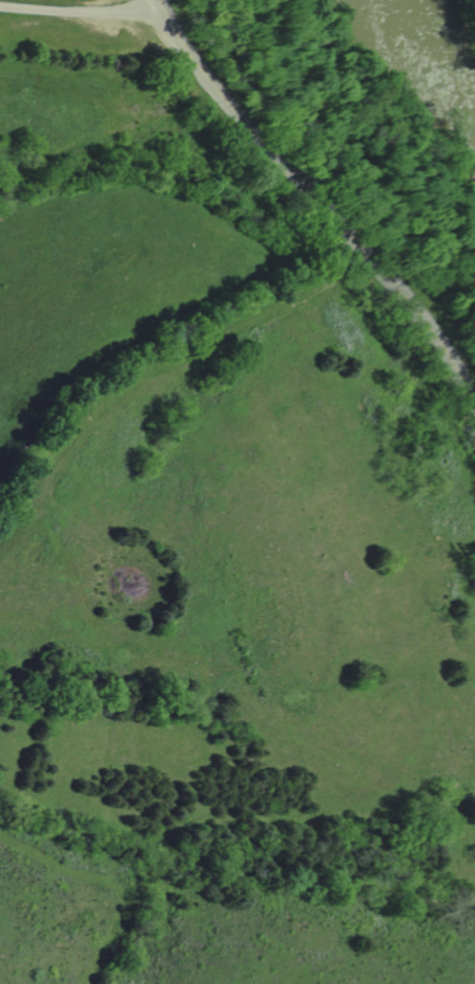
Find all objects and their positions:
road: (77, 10)
river: (424, 53)
road: (314, 203)

